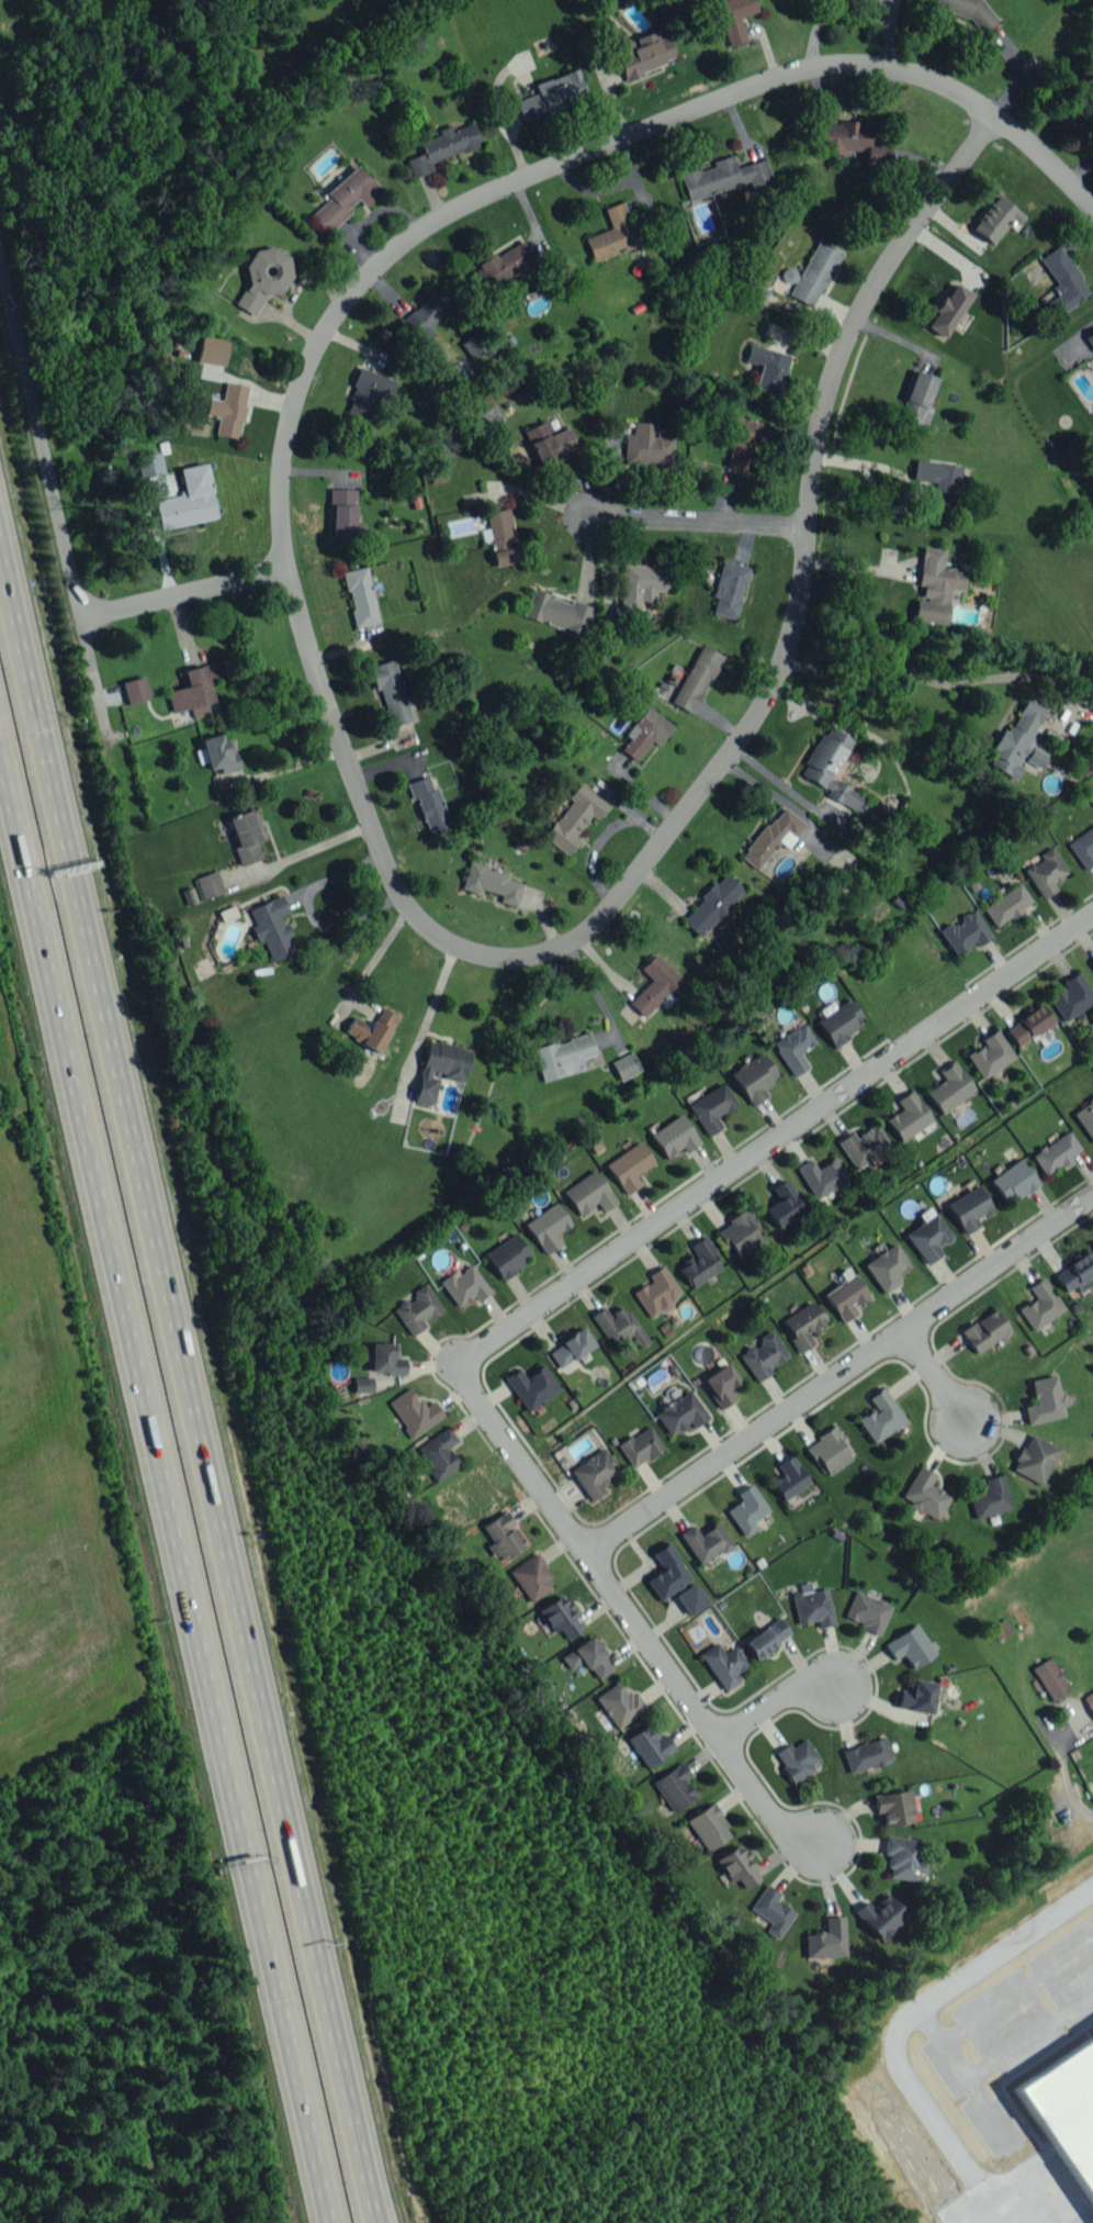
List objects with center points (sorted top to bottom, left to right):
building: (966, 10)
building: (733, 18)
building: (643, 53)
road: (1023, 77)
building: (550, 94)
building: (852, 142)
building: (441, 147)
road: (1045, 159)
building: (724, 177)
road: (525, 178)
building: (345, 197)
building: (994, 217)
building: (616, 232)
building: (500, 267)
building: (814, 272)
building: (788, 275)
building: (263, 277)
building: (1062, 279)
building: (947, 310)
building: (429, 311)
building: (1090, 337)
building: (471, 346)
building: (212, 350)
building: (767, 368)
building: (461, 371)
building: (365, 396)
building: (916, 398)
building: (228, 409)
building: (744, 440)
building: (549, 443)
building: (646, 445)
building: (148, 463)
building: (938, 480)
road: (912, 482)
building: (187, 500)
building: (1092, 503)
road: (55, 505)
building: (341, 512)
road: (696, 523)
building: (500, 536)
road: (857, 568)
building: (642, 583)
building: (936, 585)
building: (728, 589)
road: (183, 591)
building: (360, 596)
building: (557, 613)
building: (696, 678)
road: (932, 680)
building: (135, 689)
building: (193, 690)
building: (390, 690)
building: (1092, 711)
building: (644, 731)
building: (1018, 740)
building: (216, 753)
building: (831, 768)
road: (701, 789)
building: (429, 804)
building: (574, 816)
building: (245, 835)
building: (771, 836)
building: (1083, 847)
road: (301, 853)
building: (1046, 871)
building: (491, 882)
building: (209, 884)
building: (712, 904)
building: (1006, 904)
road: (308, 909)
building: (271, 927)
building: (964, 931)
building: (1091, 962)
building: (653, 984)
road: (106, 994)
building: (1071, 996)
road: (49, 1009)
building: (840, 1020)
building: (1028, 1024)
building: (371, 1029)
building: (793, 1048)
building: (990, 1053)
building: (562, 1055)
building: (624, 1065)
building: (439, 1068)
building: (753, 1076)
building: (949, 1086)
building: (711, 1107)
building: (908, 1116)
building: (1085, 1117)
building: (674, 1137)
building: (863, 1146)
building: (1056, 1152)
building: (629, 1165)
building: (821, 1176)
building: (1013, 1180)
building: (588, 1193)
building: (782, 1204)
building: (969, 1208)
building: (546, 1226)
building: (739, 1232)
building: (927, 1238)
building: (507, 1255)
building: (699, 1263)
building: (886, 1266)
building: (1075, 1272)
building: (463, 1285)
building: (656, 1292)
building: (845, 1296)
building: (1040, 1305)
building: (416, 1308)
road: (527, 1319)
building: (618, 1325)
building: (802, 1325)
building: (984, 1330)
building: (570, 1347)
building: (762, 1355)
building: (385, 1359)
road: (840, 1376)
road: (936, 1377)
building: (361, 1384)
building: (720, 1384)
building: (531, 1386)
building: (1045, 1400)
building: (414, 1411)
building: (679, 1411)
building: (880, 1416)
building: (640, 1445)
building: (829, 1450)
building: (438, 1453)
building: (1034, 1459)
building: (594, 1473)
building: (788, 1477)
building: (924, 1493)
building: (989, 1497)
building: (746, 1509)
building: (503, 1535)
building: (705, 1541)
building: (667, 1572)
building: (531, 1577)
building: (690, 1598)
building: (812, 1607)
building: (868, 1611)
building: (560, 1617)
building: (1000, 1628)
building: (765, 1636)
building: (910, 1645)
building: (587, 1657)
building: (723, 1664)
building: (1049, 1678)
building: (916, 1696)
building: (1089, 1700)
road: (774, 1701)
building: (619, 1703)
road: (210, 1723)
building: (649, 1745)
building: (866, 1754)
building: (797, 1758)
road: (1067, 1783)
building: (675, 1787)
building: (893, 1807)
building: (709, 1827)
road: (294, 1845)
building: (902, 1857)
building: (737, 1866)
building: (771, 1910)
building: (880, 1915)
building: (826, 1939)
road: (902, 2024)
building: (1072, 2086)

